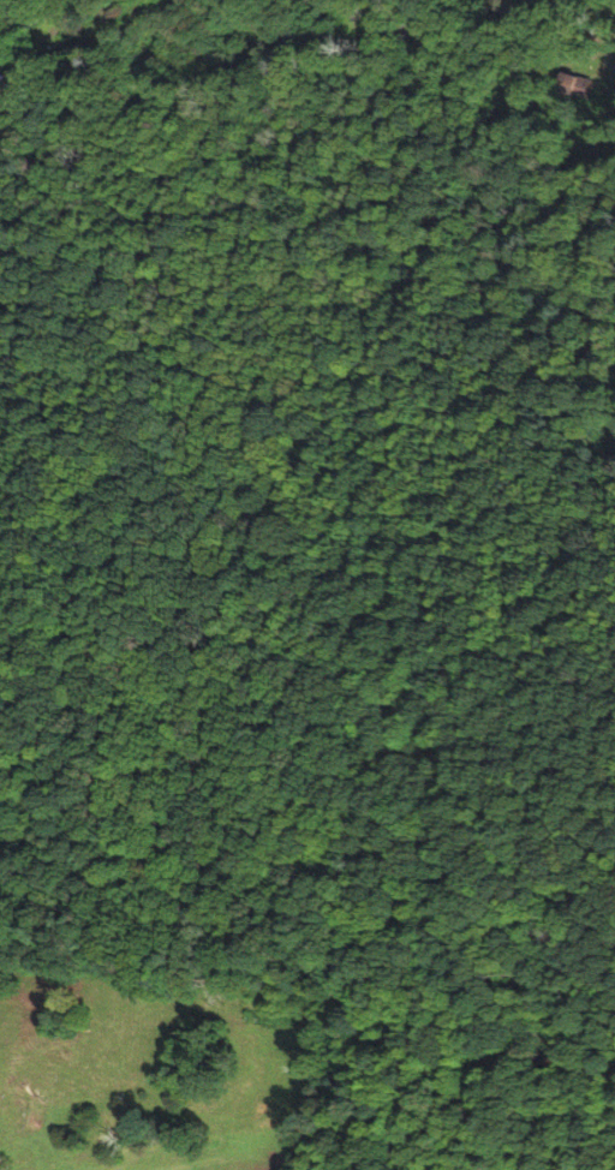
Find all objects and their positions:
building: (10, 79)

